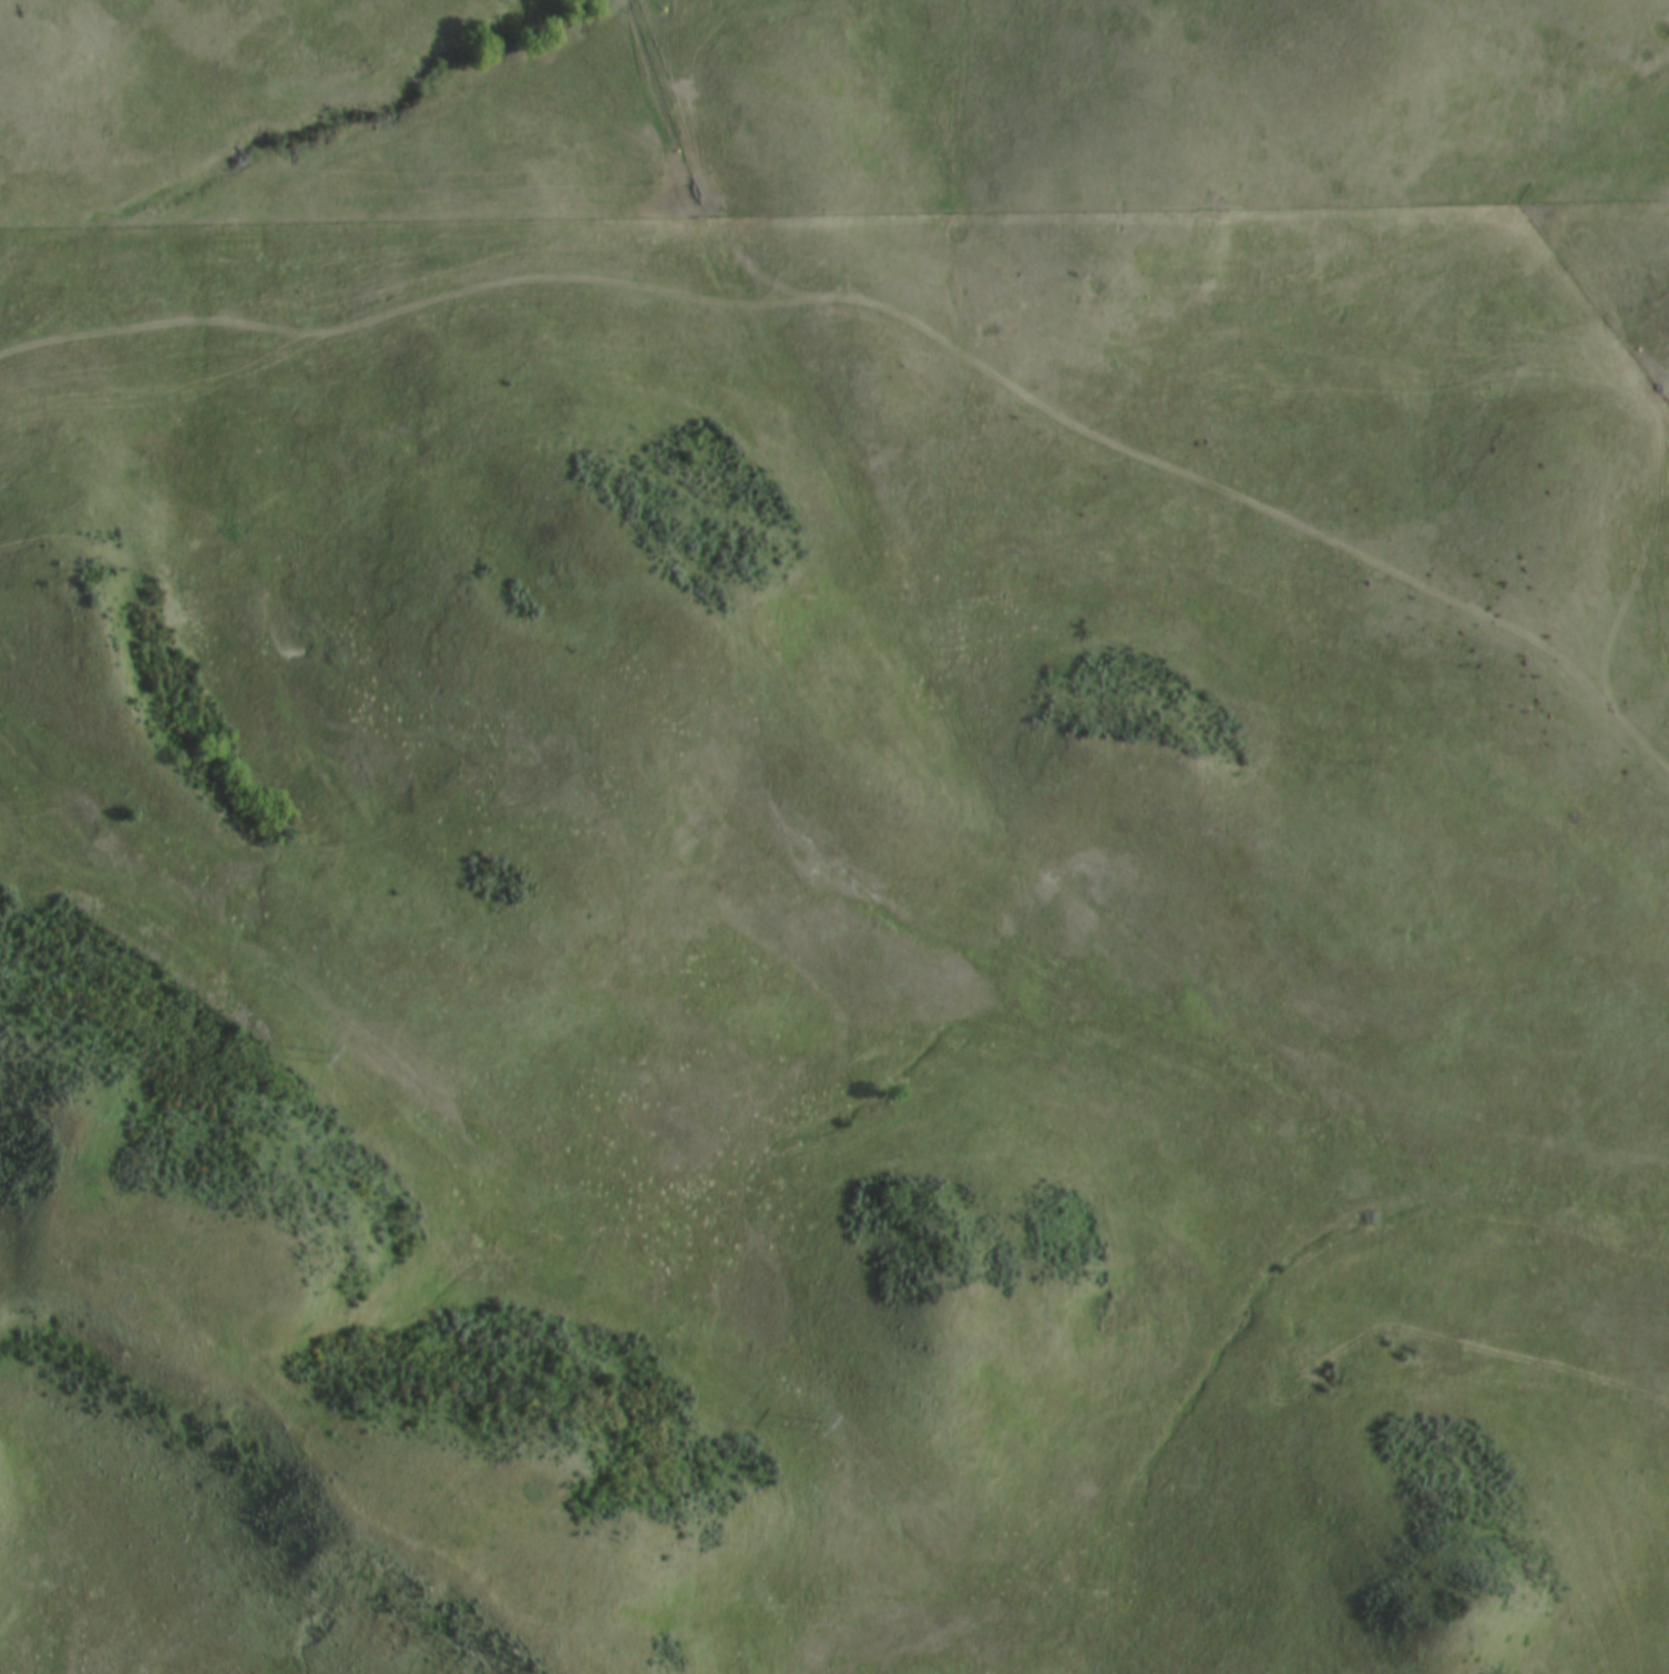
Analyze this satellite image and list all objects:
power tower: (324, 1057)
power tower: (819, 1427)

